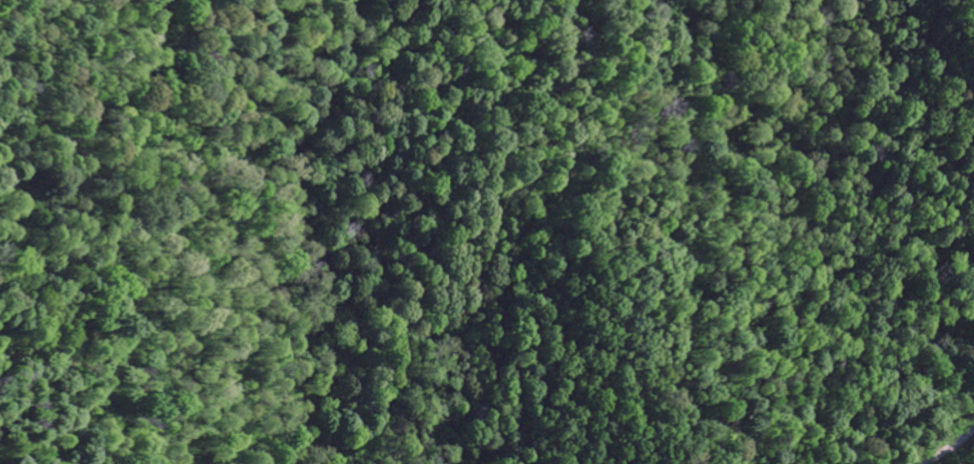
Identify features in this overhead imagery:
road: (952, 449)

